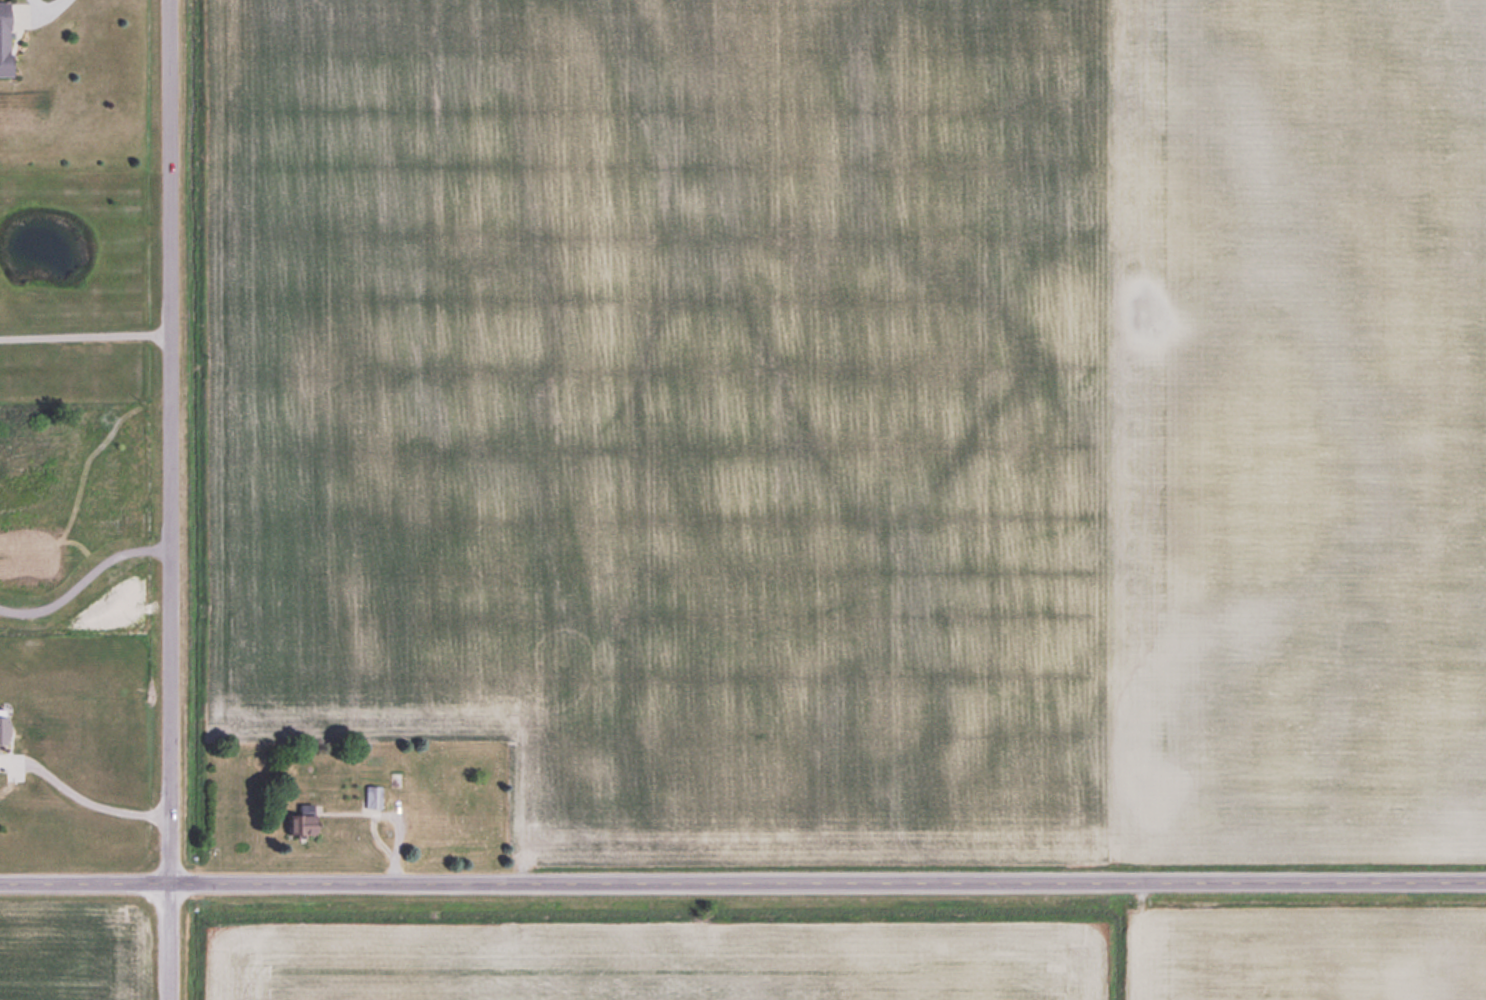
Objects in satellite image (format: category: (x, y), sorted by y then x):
road: (41, 2)
building: (3, 39)
road: (84, 336)
road: (168, 500)
road: (83, 577)
building: (2, 728)
building: (451, 775)
building: (372, 798)
road: (93, 801)
road: (400, 815)
building: (300, 823)
road: (742, 883)

